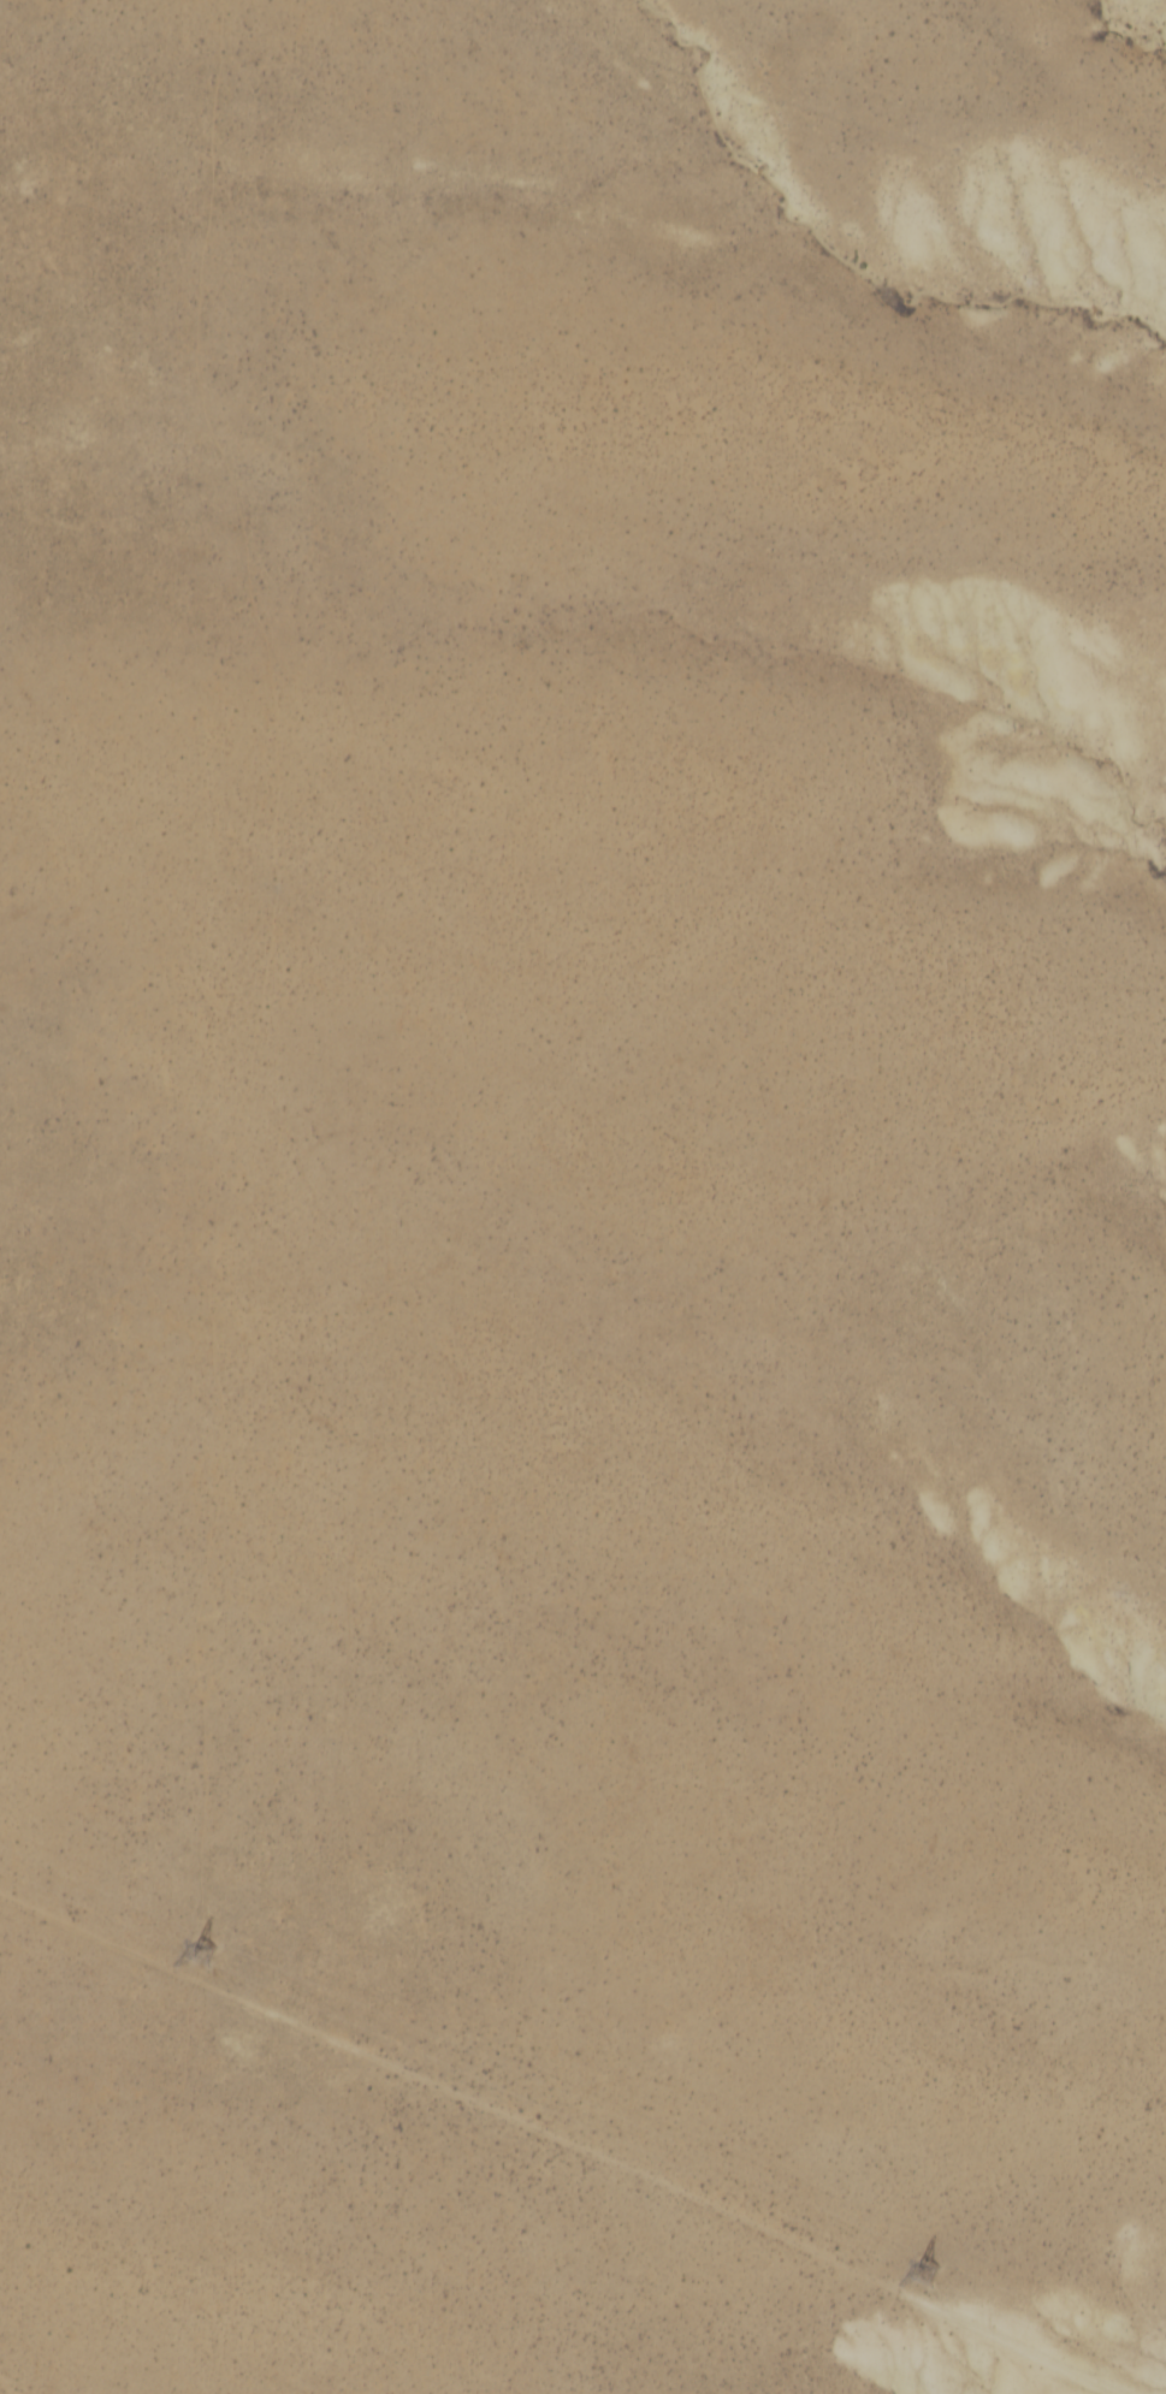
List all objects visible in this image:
power tower: (217, 1955)
power tower: (940, 2279)

